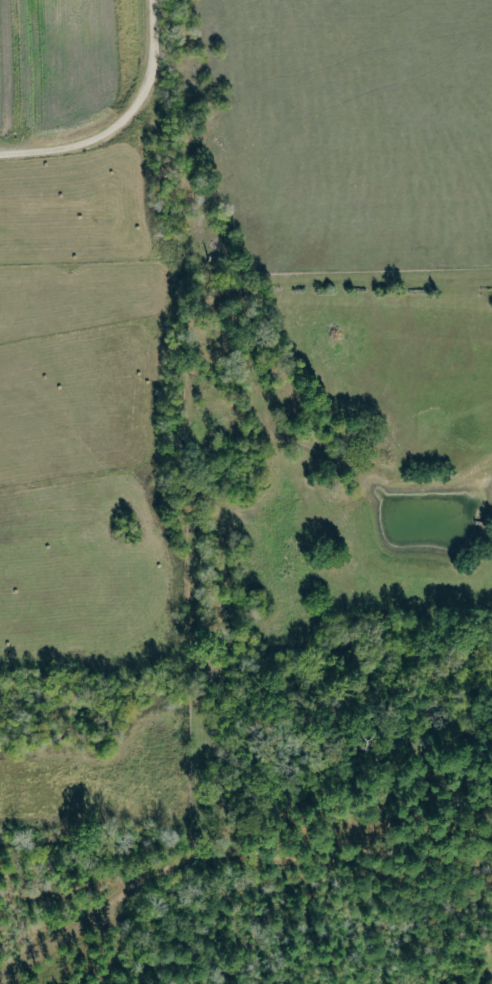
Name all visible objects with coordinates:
road: (124, 123)

